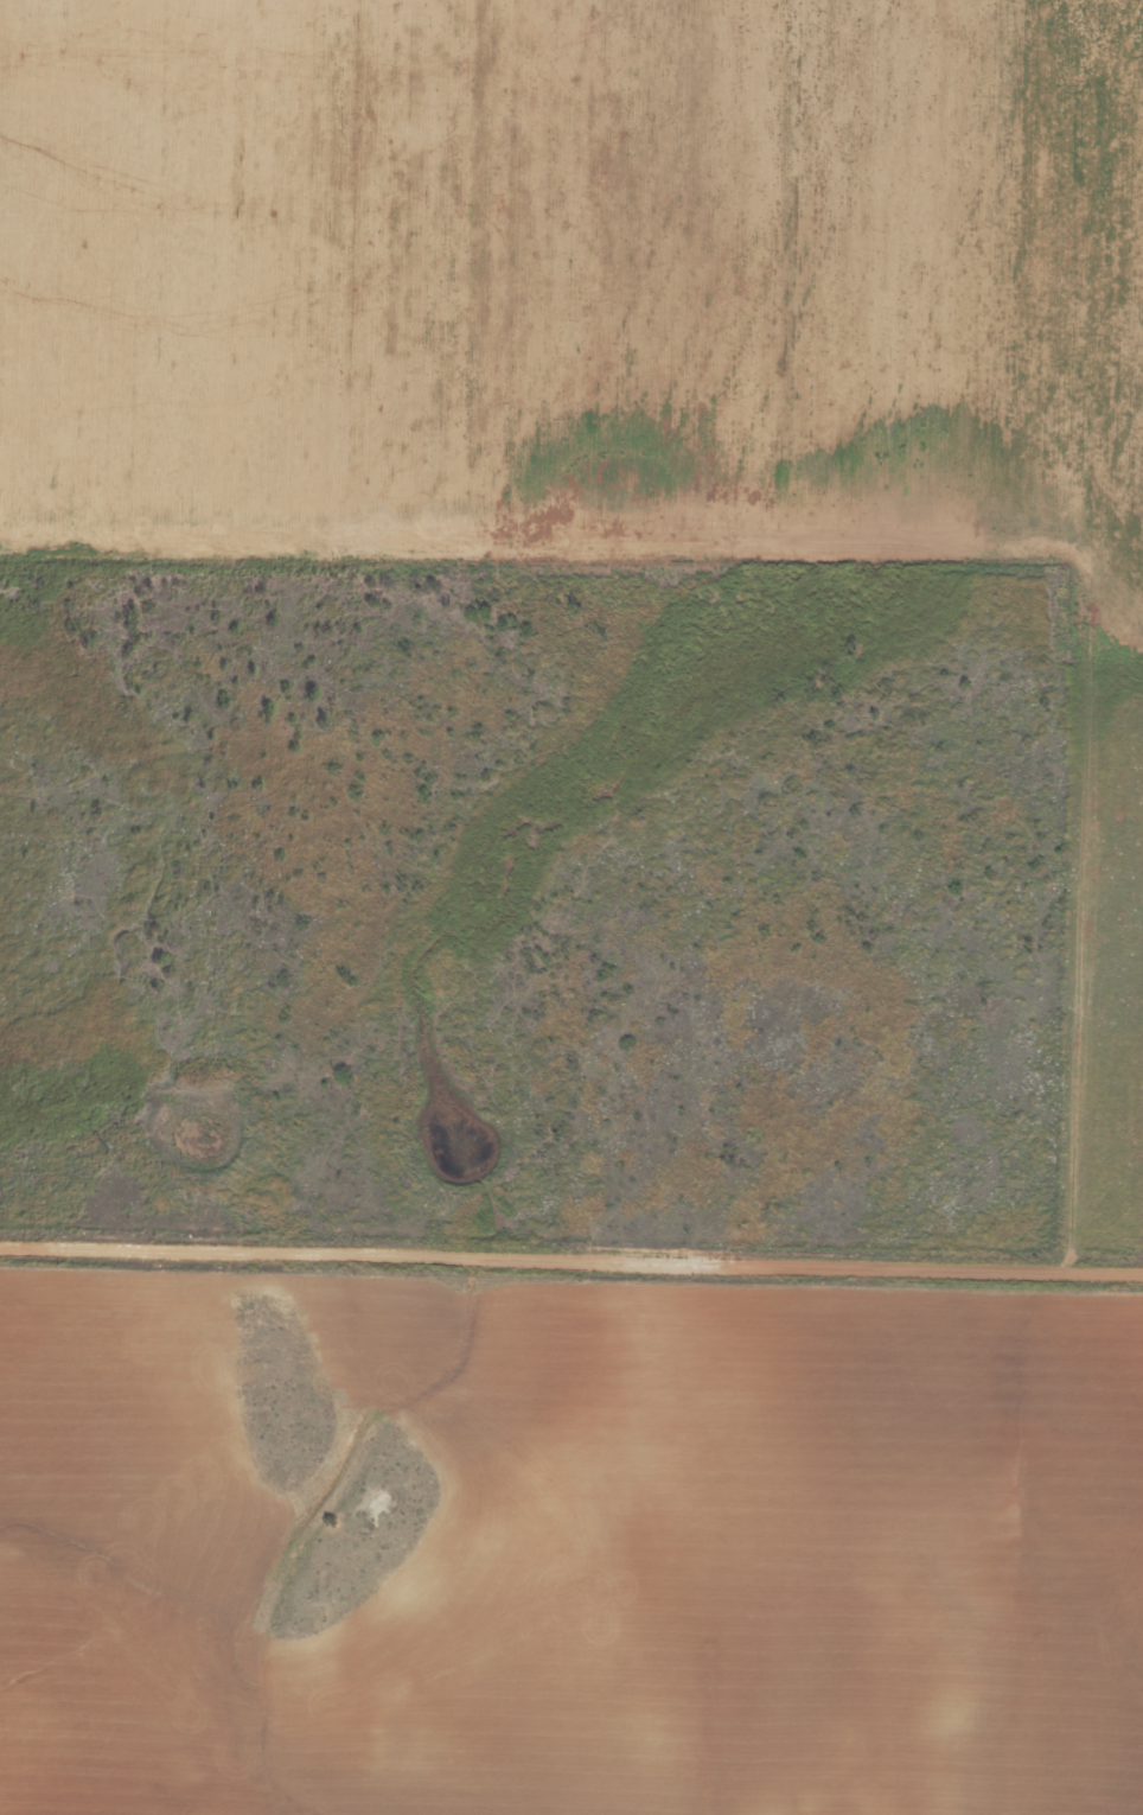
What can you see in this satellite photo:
road: (571, 1257)

